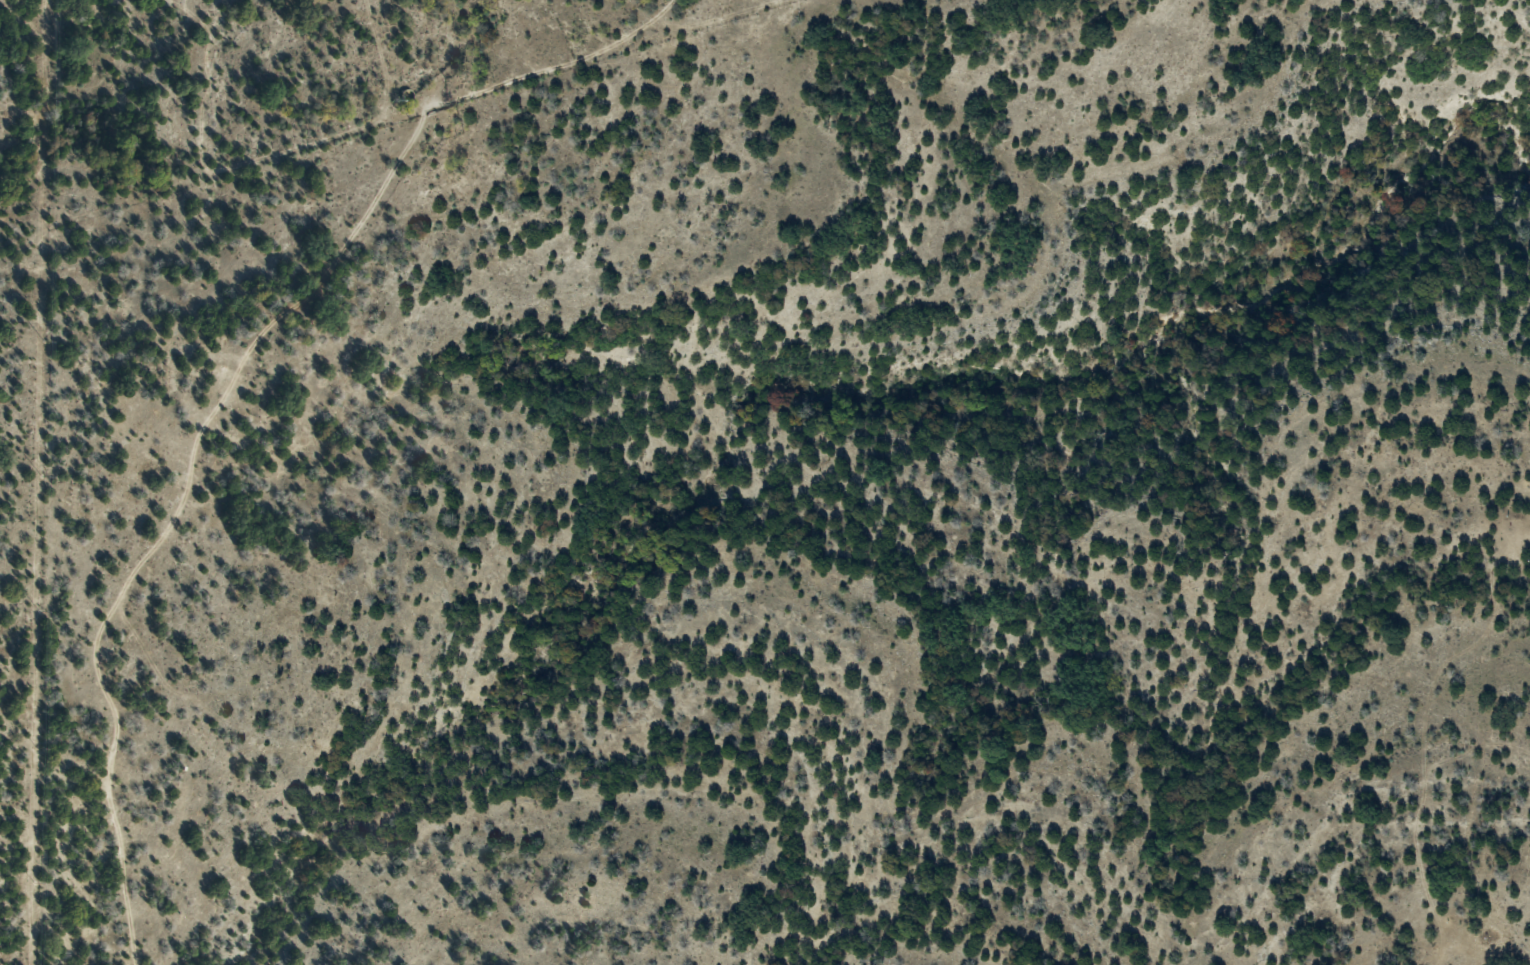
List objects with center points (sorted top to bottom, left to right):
road: (580, 66)

